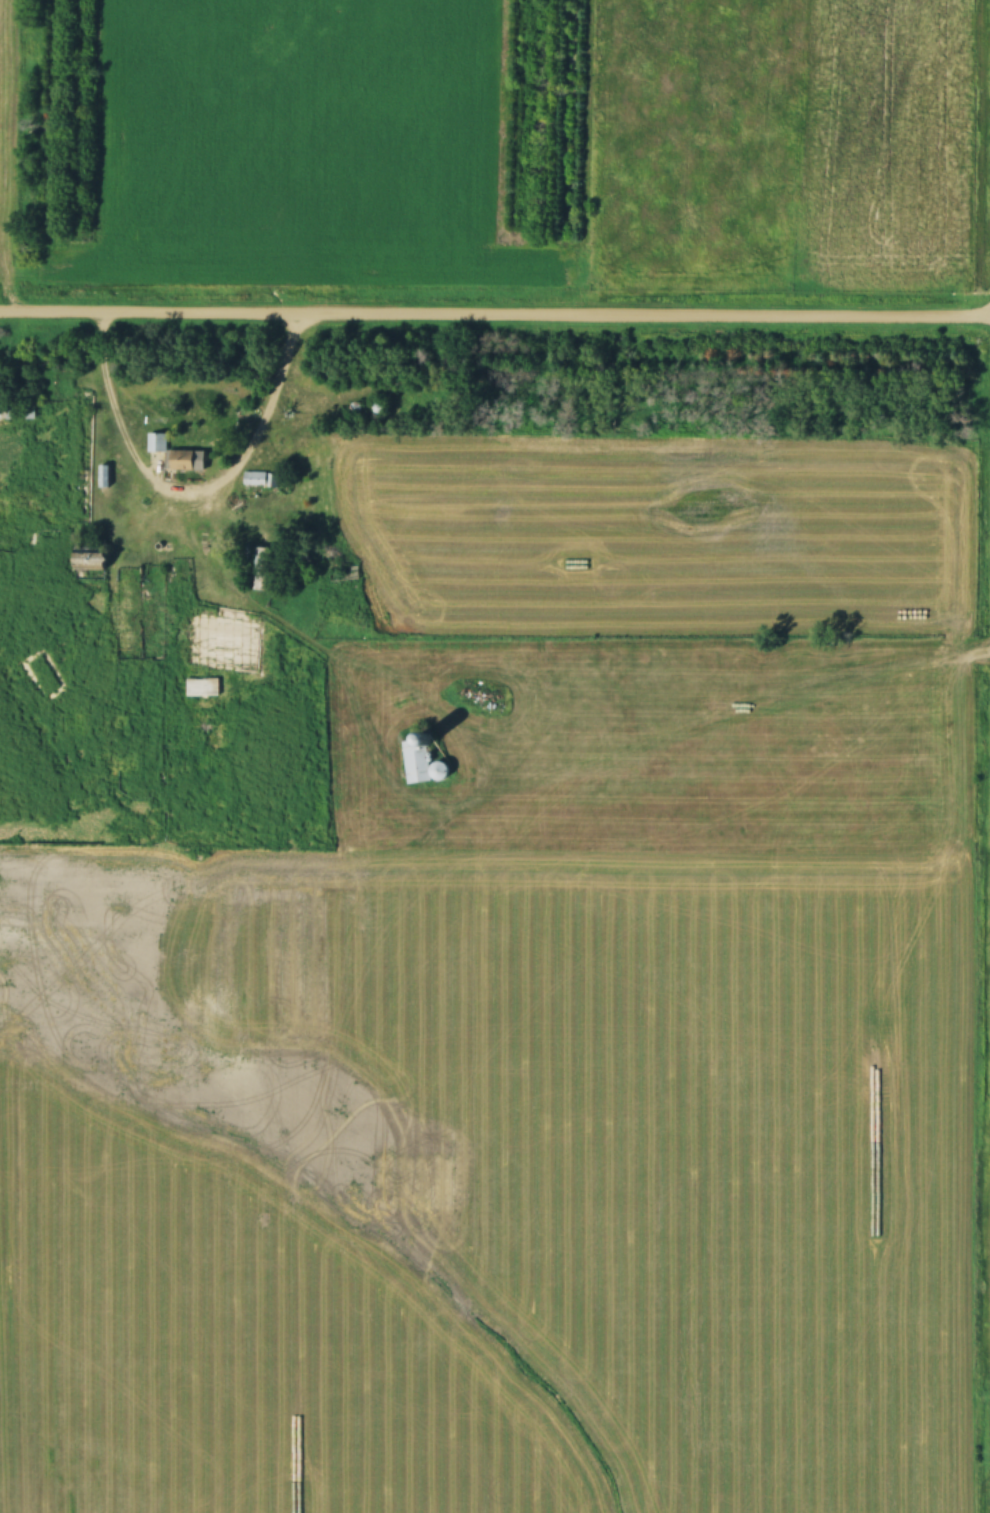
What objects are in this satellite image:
road: (495, 311)
building: (17, 409)
building: (178, 453)
building: (104, 475)
building: (259, 478)
building: (94, 553)
building: (263, 568)
building: (343, 573)
building: (203, 686)
building: (424, 760)

